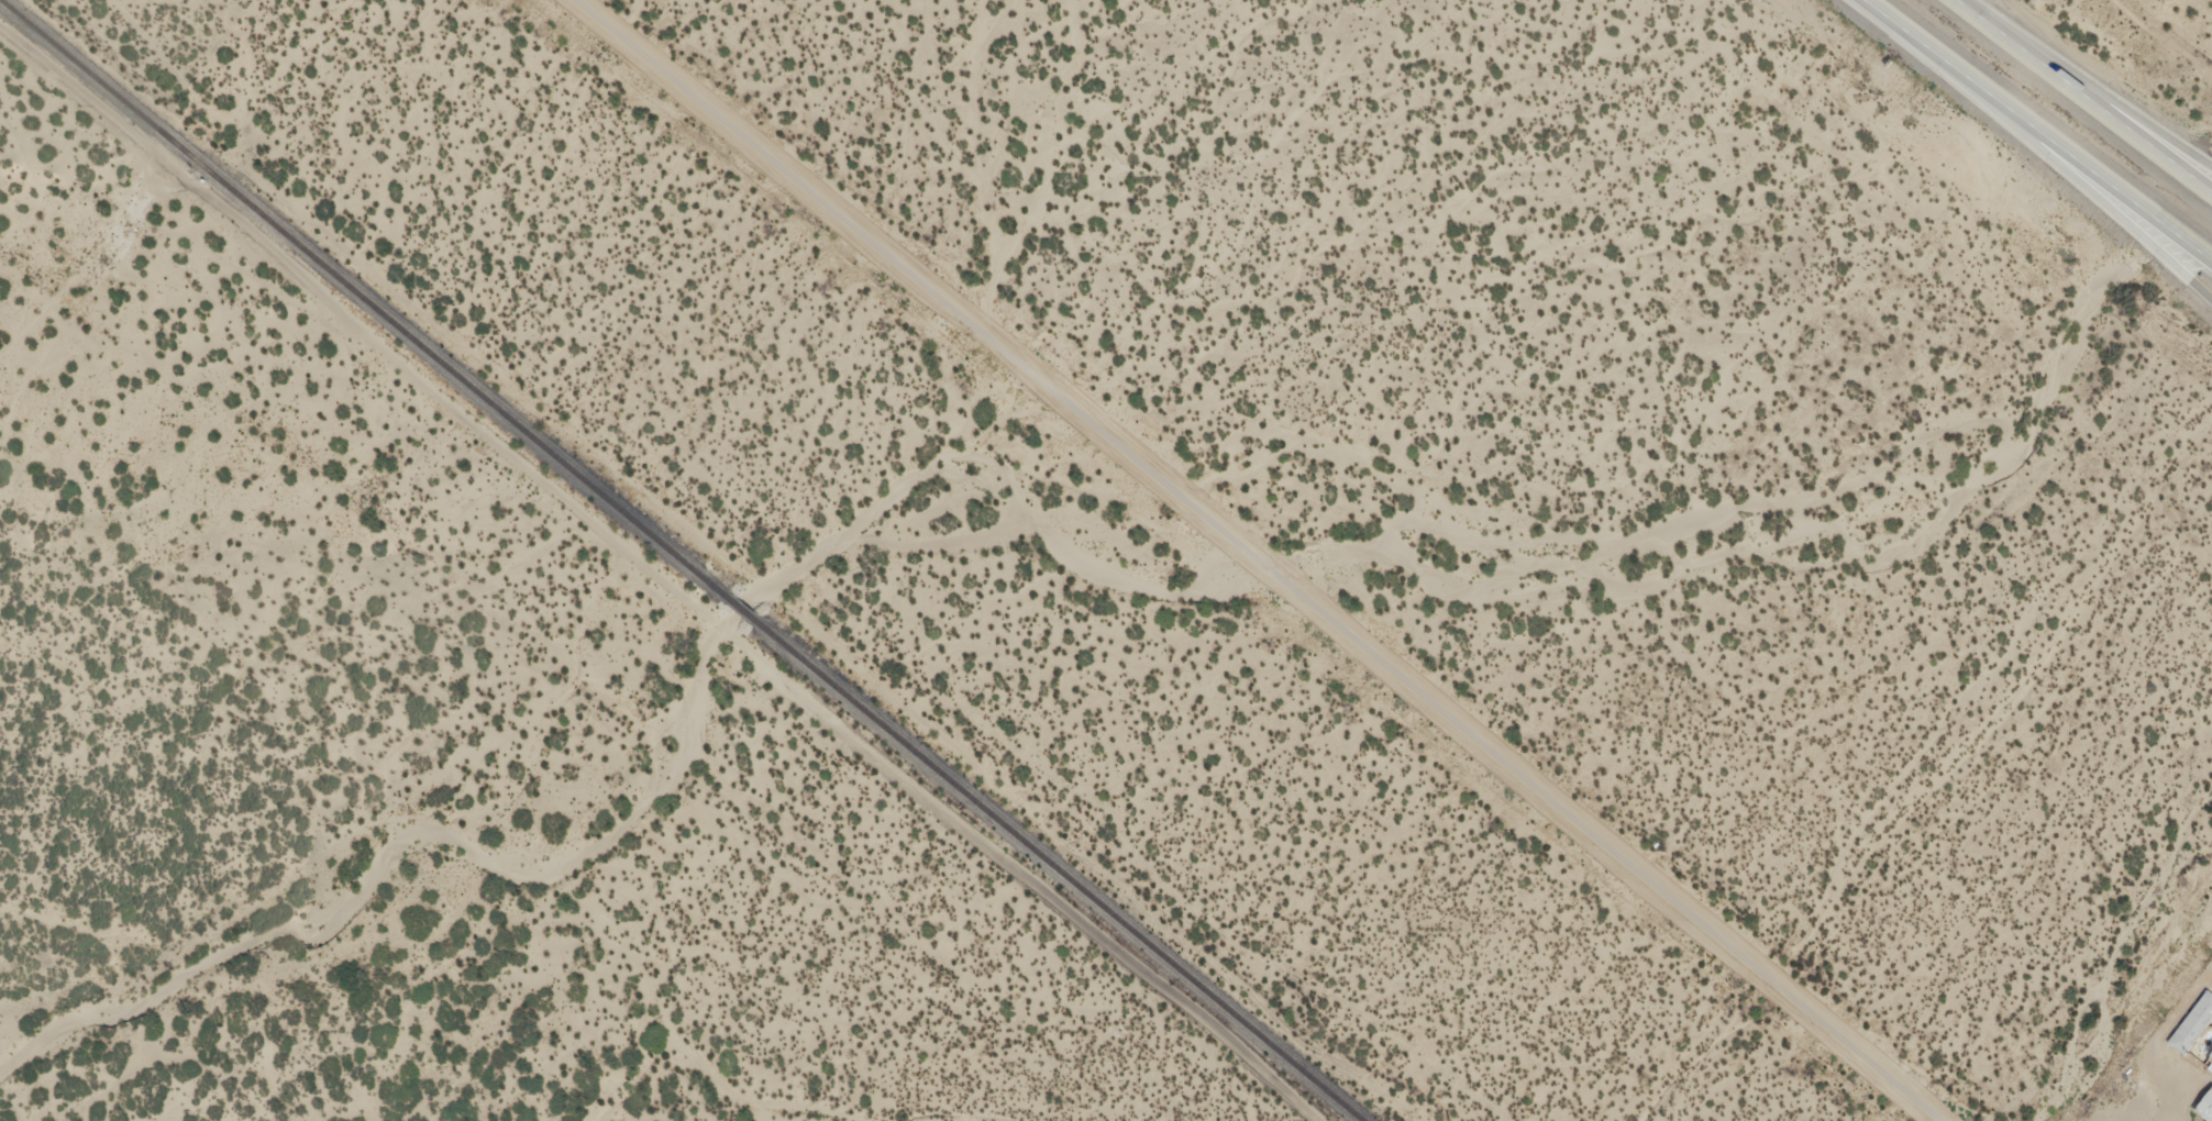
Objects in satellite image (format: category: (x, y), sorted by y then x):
road: (2084, 84)
road: (2082, 97)
road: (2035, 133)
road: (2095, 197)
road: (1258, 553)
railway: (681, 562)
road: (659, 578)
railway: (560, 685)
building: (2187, 1031)
building: (2208, 1063)
building: (2202, 1110)

